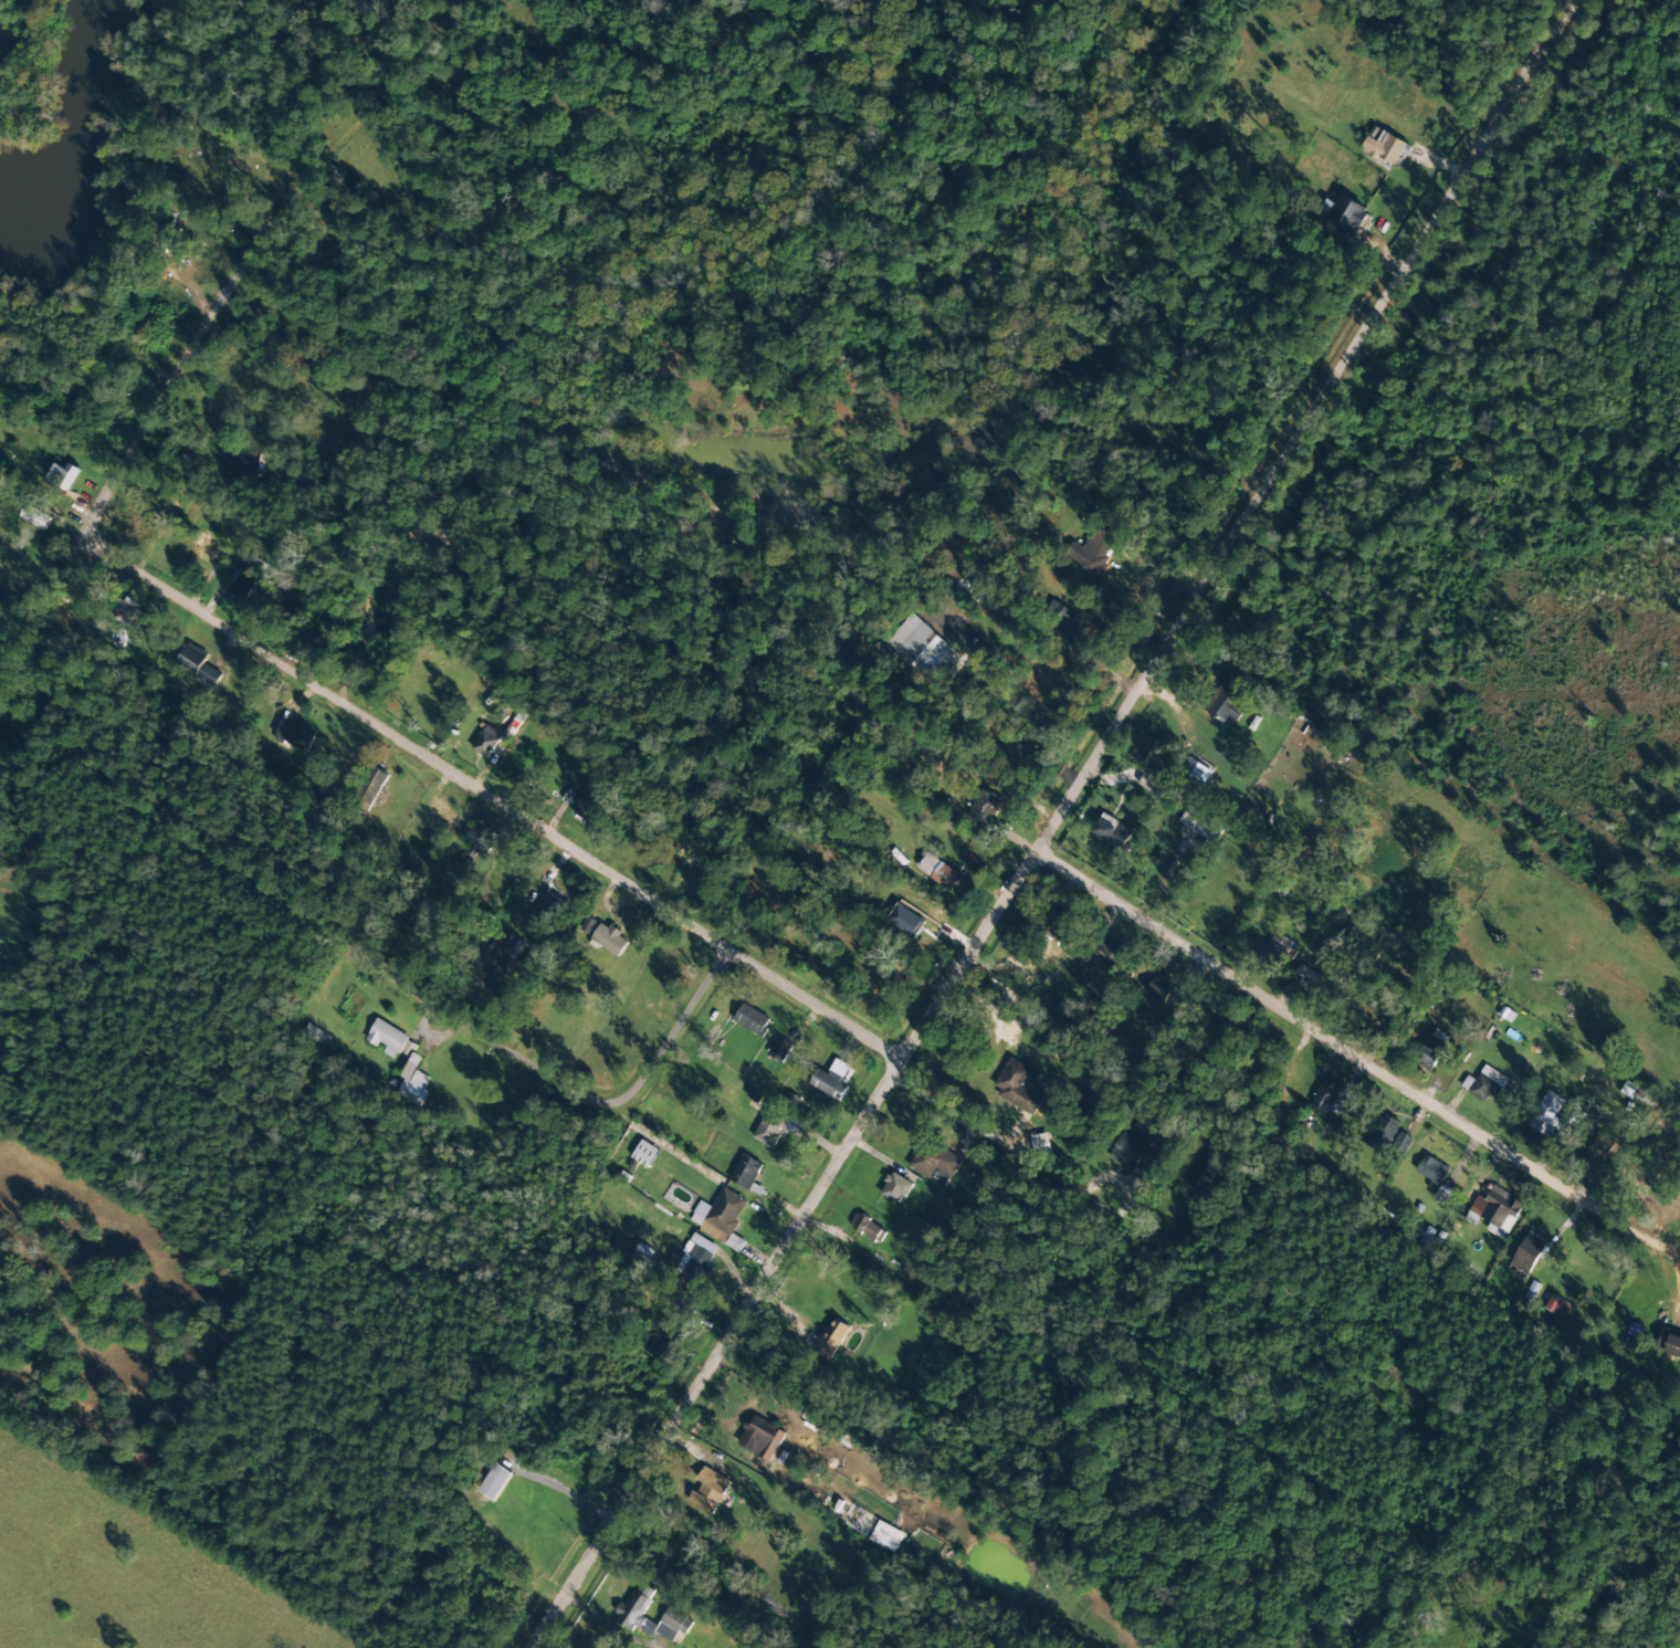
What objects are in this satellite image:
river: (82, 130)
building: (1386, 148)
road: (148, 411)
building: (63, 476)
building: (38, 517)
building: (211, 547)
building: (1092, 550)
building: (242, 585)
building: (1058, 613)
building: (130, 615)
building: (924, 650)
building: (196, 665)
building: (1225, 702)
building: (292, 736)
building: (486, 742)
building: (1196, 770)
building: (369, 785)
building: (1155, 787)
road: (490, 792)
building: (984, 808)
building: (591, 812)
building: (435, 819)
building: (1204, 821)
road: (1047, 825)
building: (1112, 830)
building: (479, 840)
building: (938, 872)
building: (912, 916)
building: (1052, 924)
building: (610, 940)
building: (510, 946)
building: (1279, 951)
building: (1105, 956)
building: (1306, 975)
building: (1159, 988)
building: (752, 1020)
road: (468, 1022)
road: (665, 1033)
building: (312, 1036)
road: (1333, 1037)
building: (390, 1039)
building: (1431, 1049)
building: (779, 1050)
building: (831, 1080)
building: (410, 1083)
building: (1484, 1084)
building: (1018, 1087)
building: (1330, 1098)
building: (1546, 1114)
building: (774, 1126)
building: (1383, 1133)
road: (561, 1138)
building: (1401, 1143)
building: (1040, 1145)
building: (1599, 1148)
building: (1133, 1152)
building: (644, 1154)
building: (934, 1162)
building: (745, 1172)
building: (1431, 1172)
building: (1201, 1173)
building: (895, 1188)
building: (1441, 1195)
building: (1495, 1211)
building: (720, 1215)
building: (867, 1228)
building: (735, 1243)
building: (697, 1252)
building: (1530, 1252)
building: (1555, 1306)
building: (832, 1336)
building: (1669, 1343)
building: (760, 1438)
building: (491, 1482)
building: (708, 1490)
building: (631, 1612)

